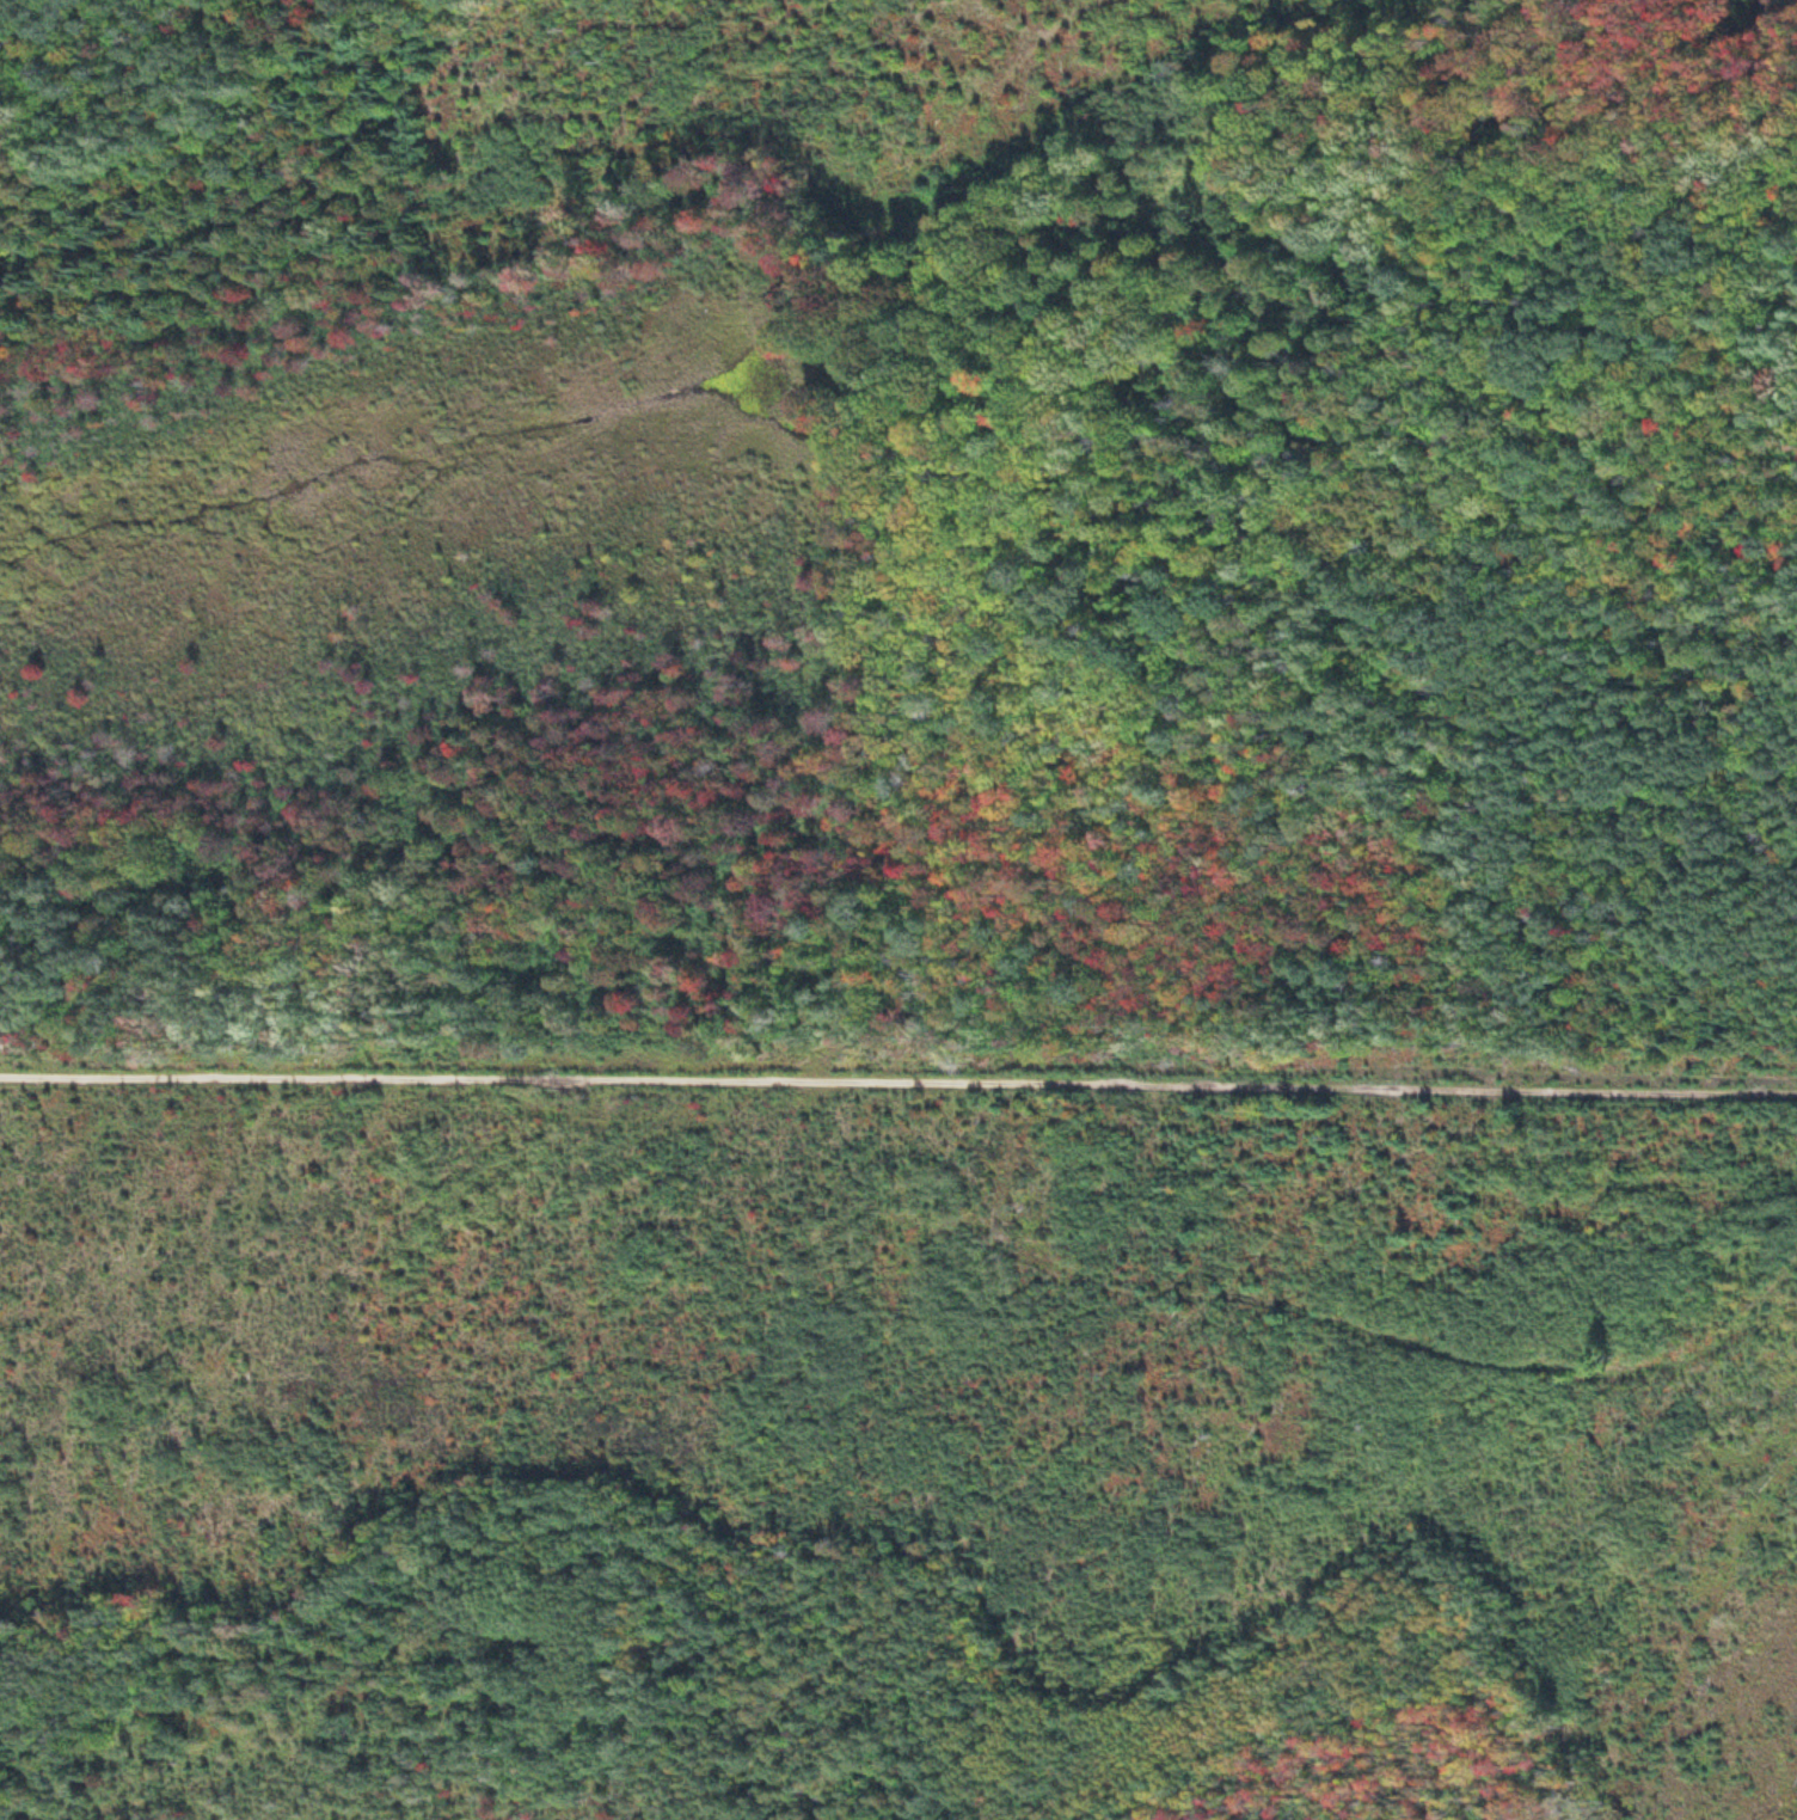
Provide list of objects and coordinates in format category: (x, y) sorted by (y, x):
road: (657, 1079)
road: (1556, 1079)

